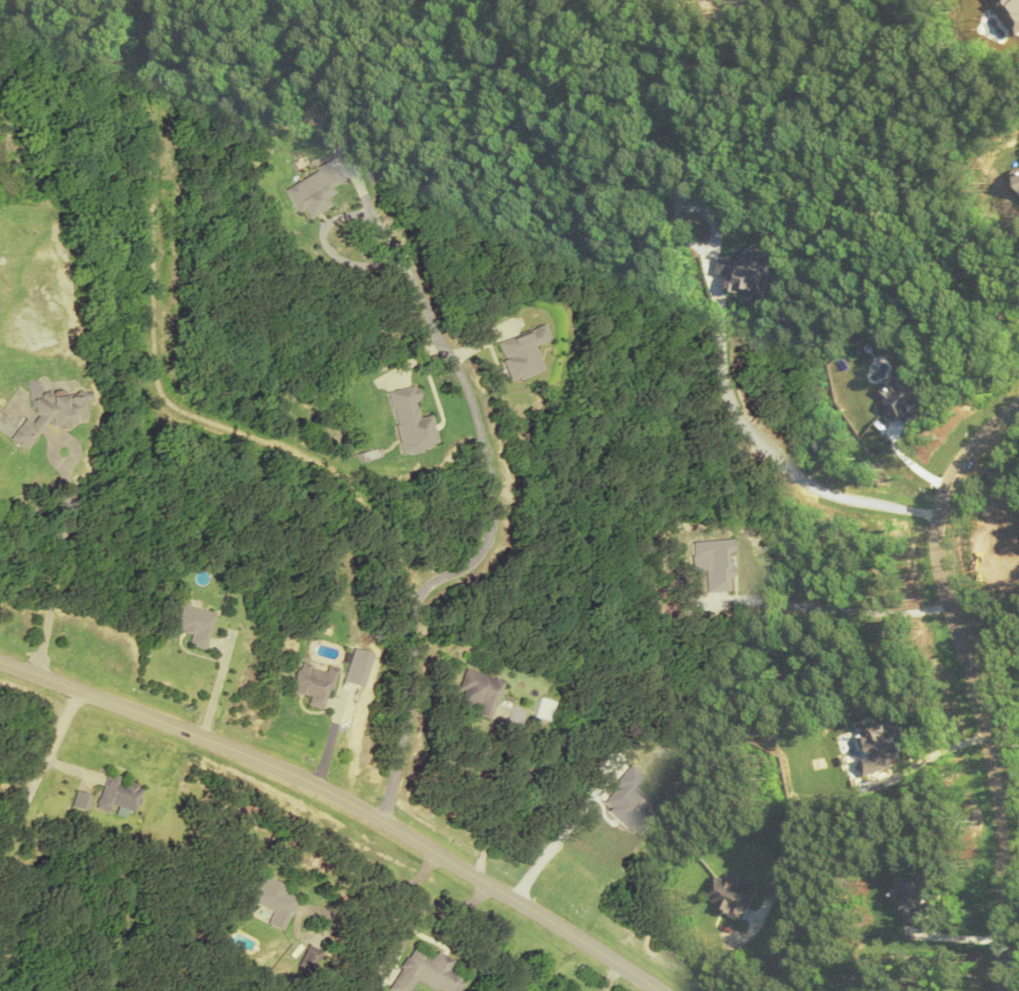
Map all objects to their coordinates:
road: (154, 365)
building: (45, 415)
road: (781, 444)
road: (477, 551)
building: (193, 623)
building: (313, 683)
road: (975, 683)
building: (477, 691)
building: (542, 708)
road: (39, 772)
building: (117, 793)
building: (77, 799)
road: (343, 799)
building: (732, 893)
building: (272, 899)
building: (308, 957)
building: (425, 971)

